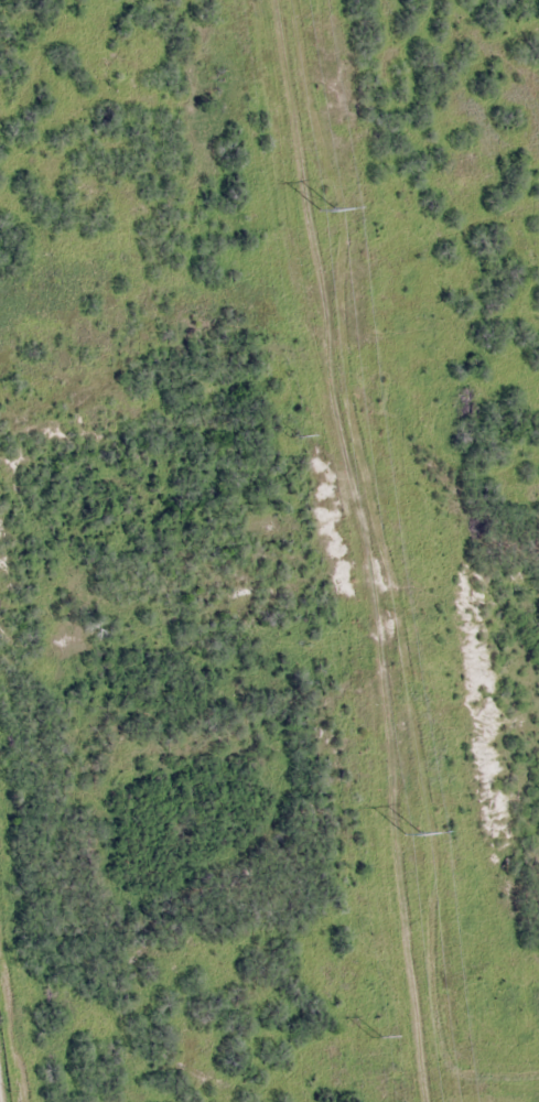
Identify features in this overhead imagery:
power tower: (325, 212)
power tower: (294, 436)
power tower: (410, 836)
power tower: (375, 1038)

